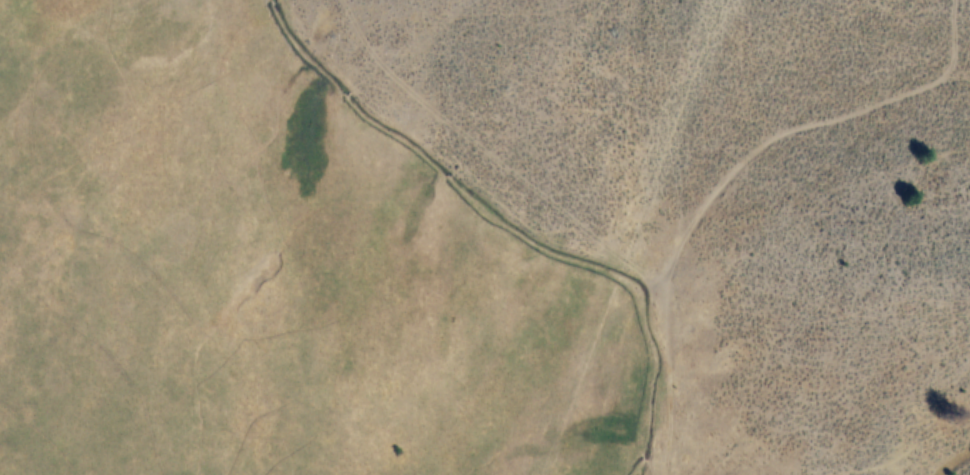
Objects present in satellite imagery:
road: (701, 184)

